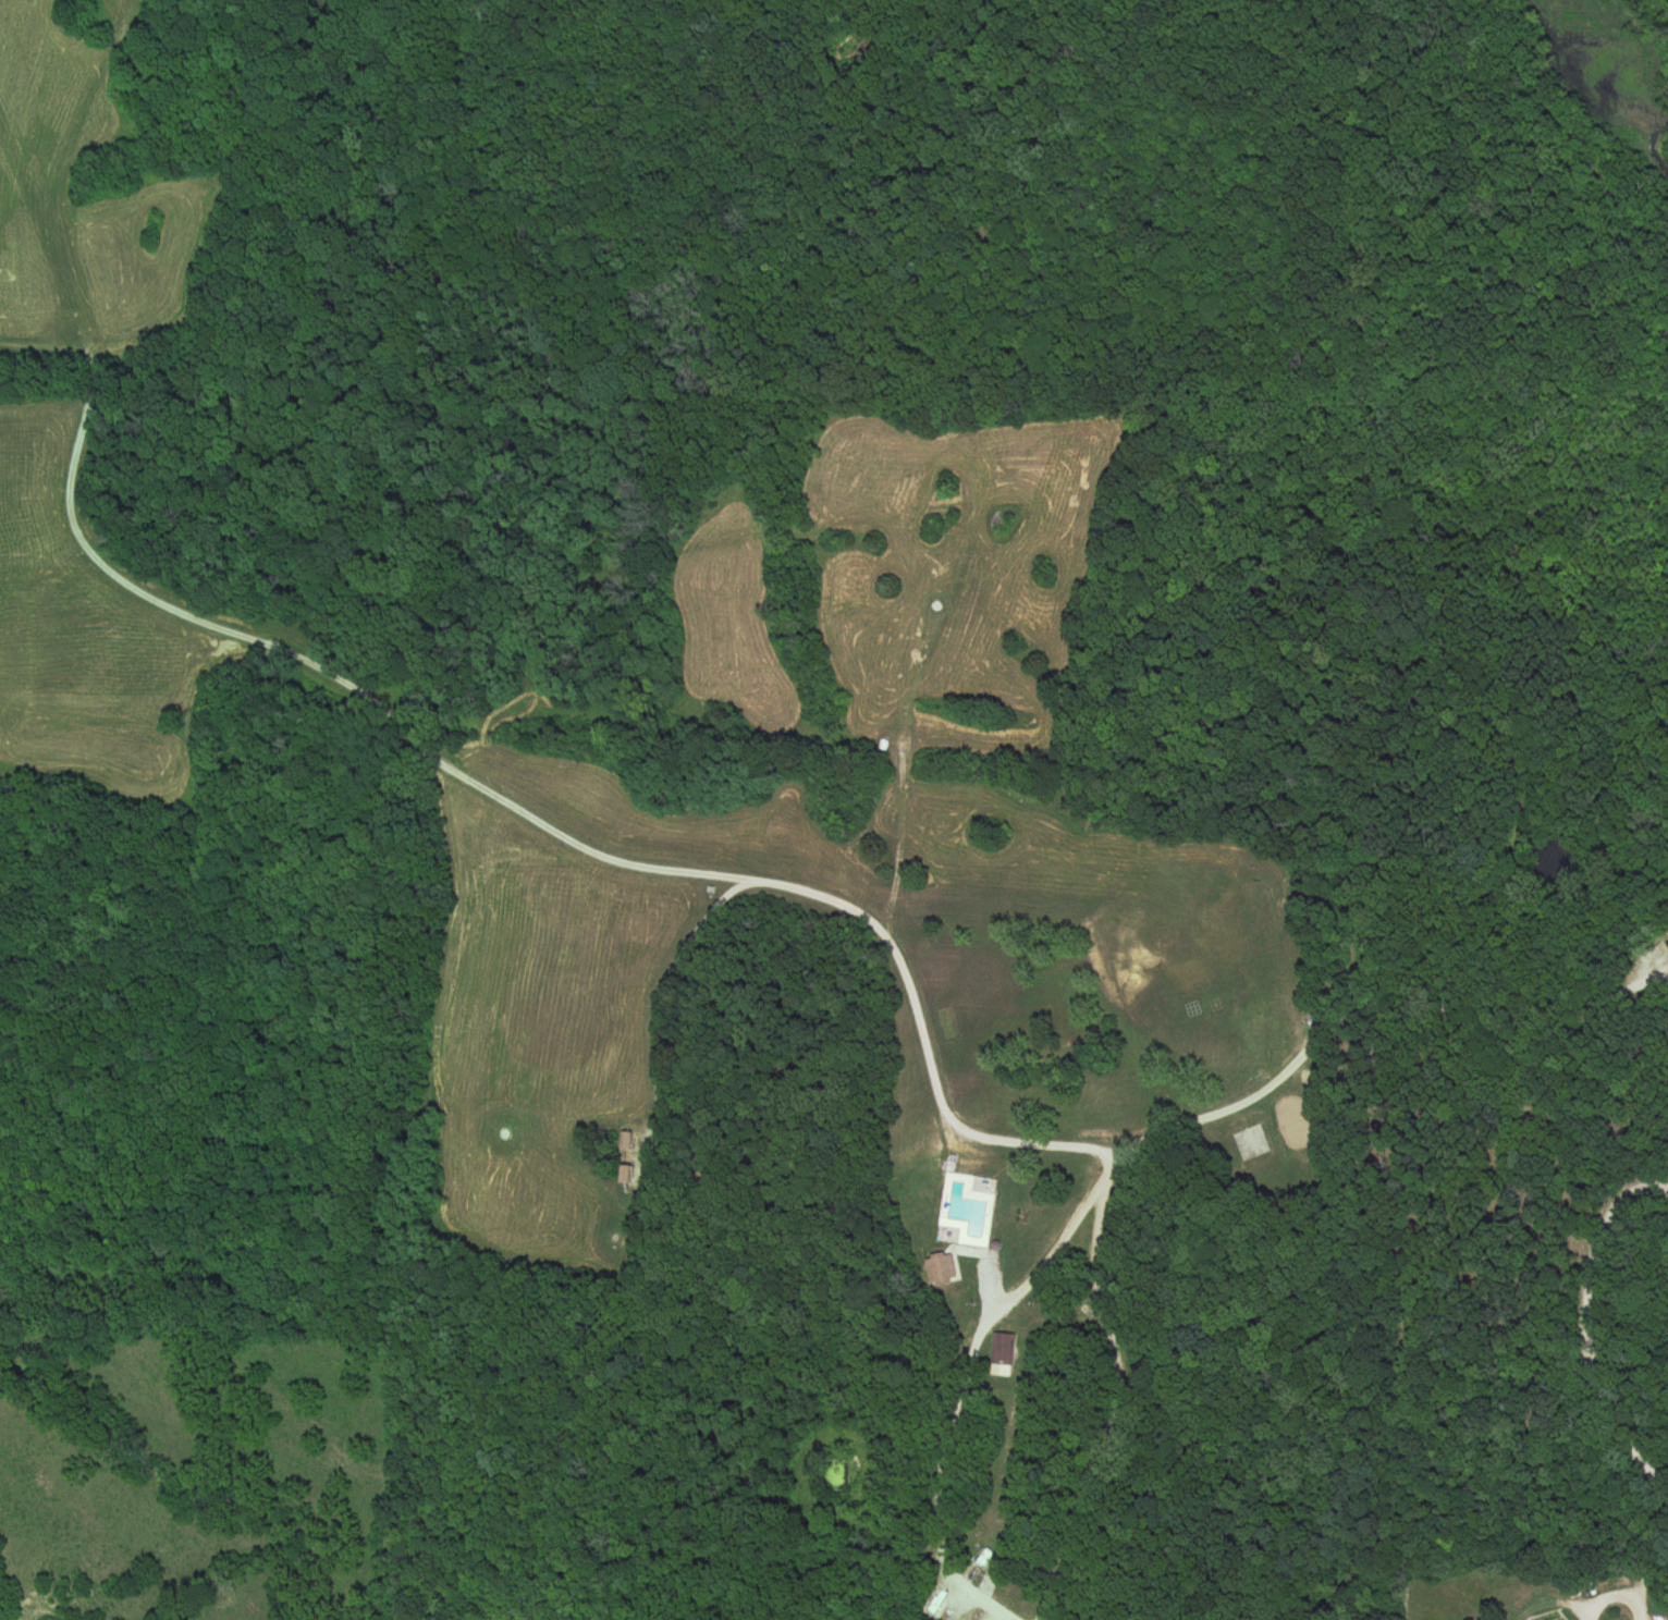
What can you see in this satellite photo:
road: (131, 317)
road: (333, 678)
road: (157, 760)
road: (1381, 1009)
road: (955, 1128)
building: (1249, 1143)
building: (625, 1175)
building: (965, 1211)
building: (942, 1269)
road: (1591, 1300)
building: (1003, 1353)
road: (1614, 1598)
building: (1558, 1619)

